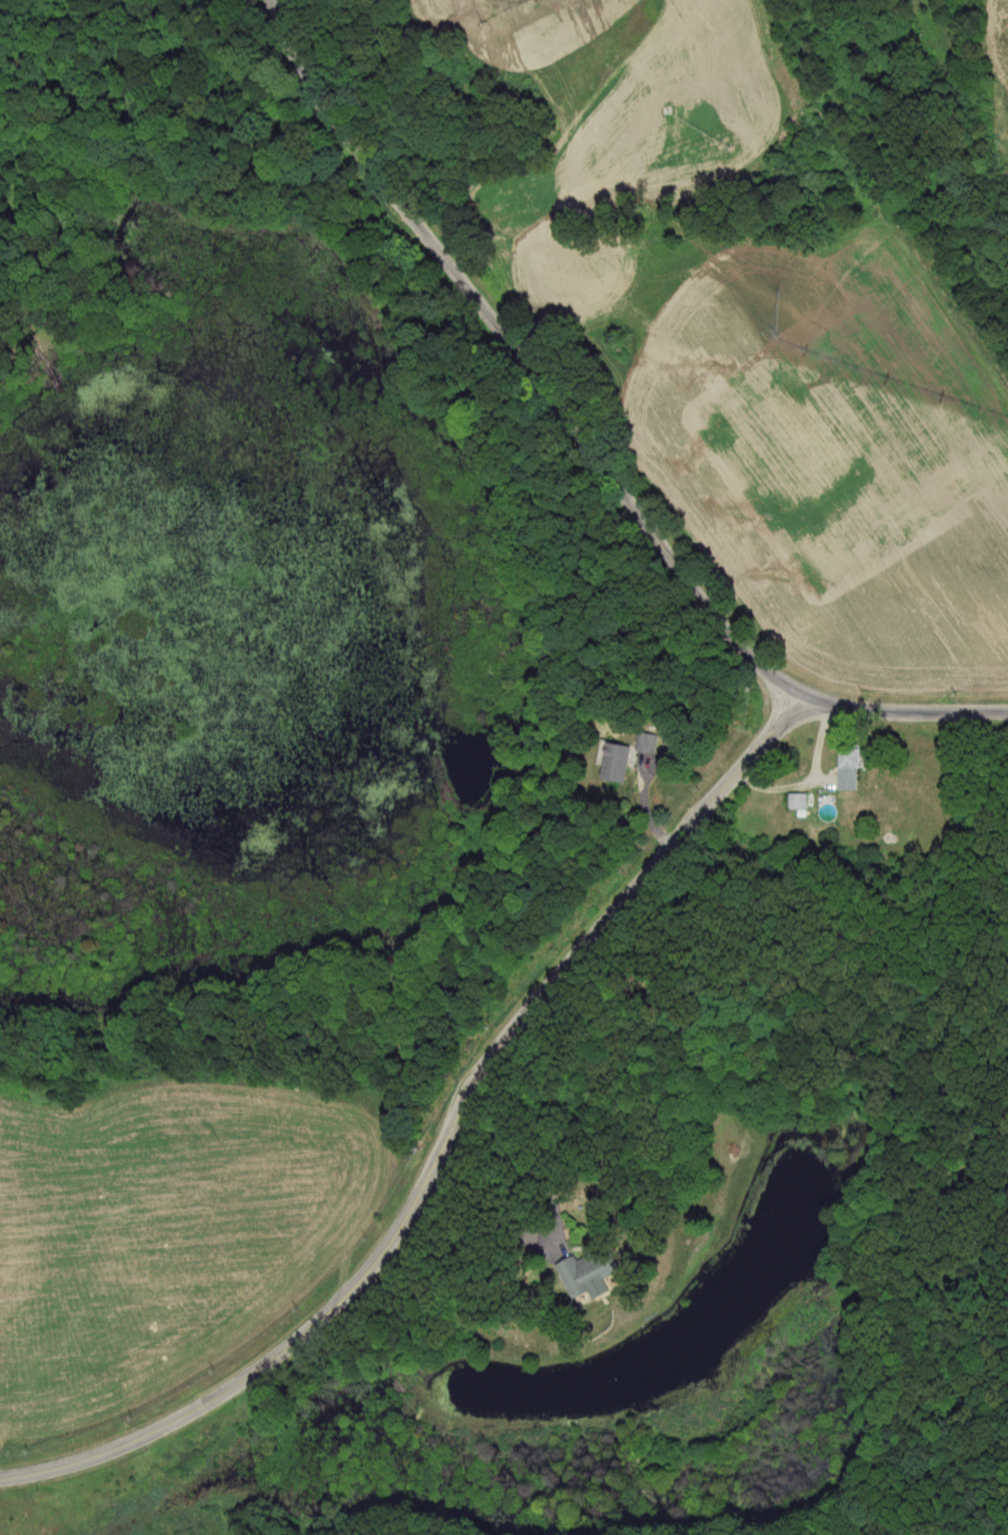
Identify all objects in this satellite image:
road: (582, 447)
building: (672, 741)
building: (649, 744)
building: (858, 762)
building: (620, 763)
building: (802, 802)
road: (442, 1150)
building: (598, 1273)

